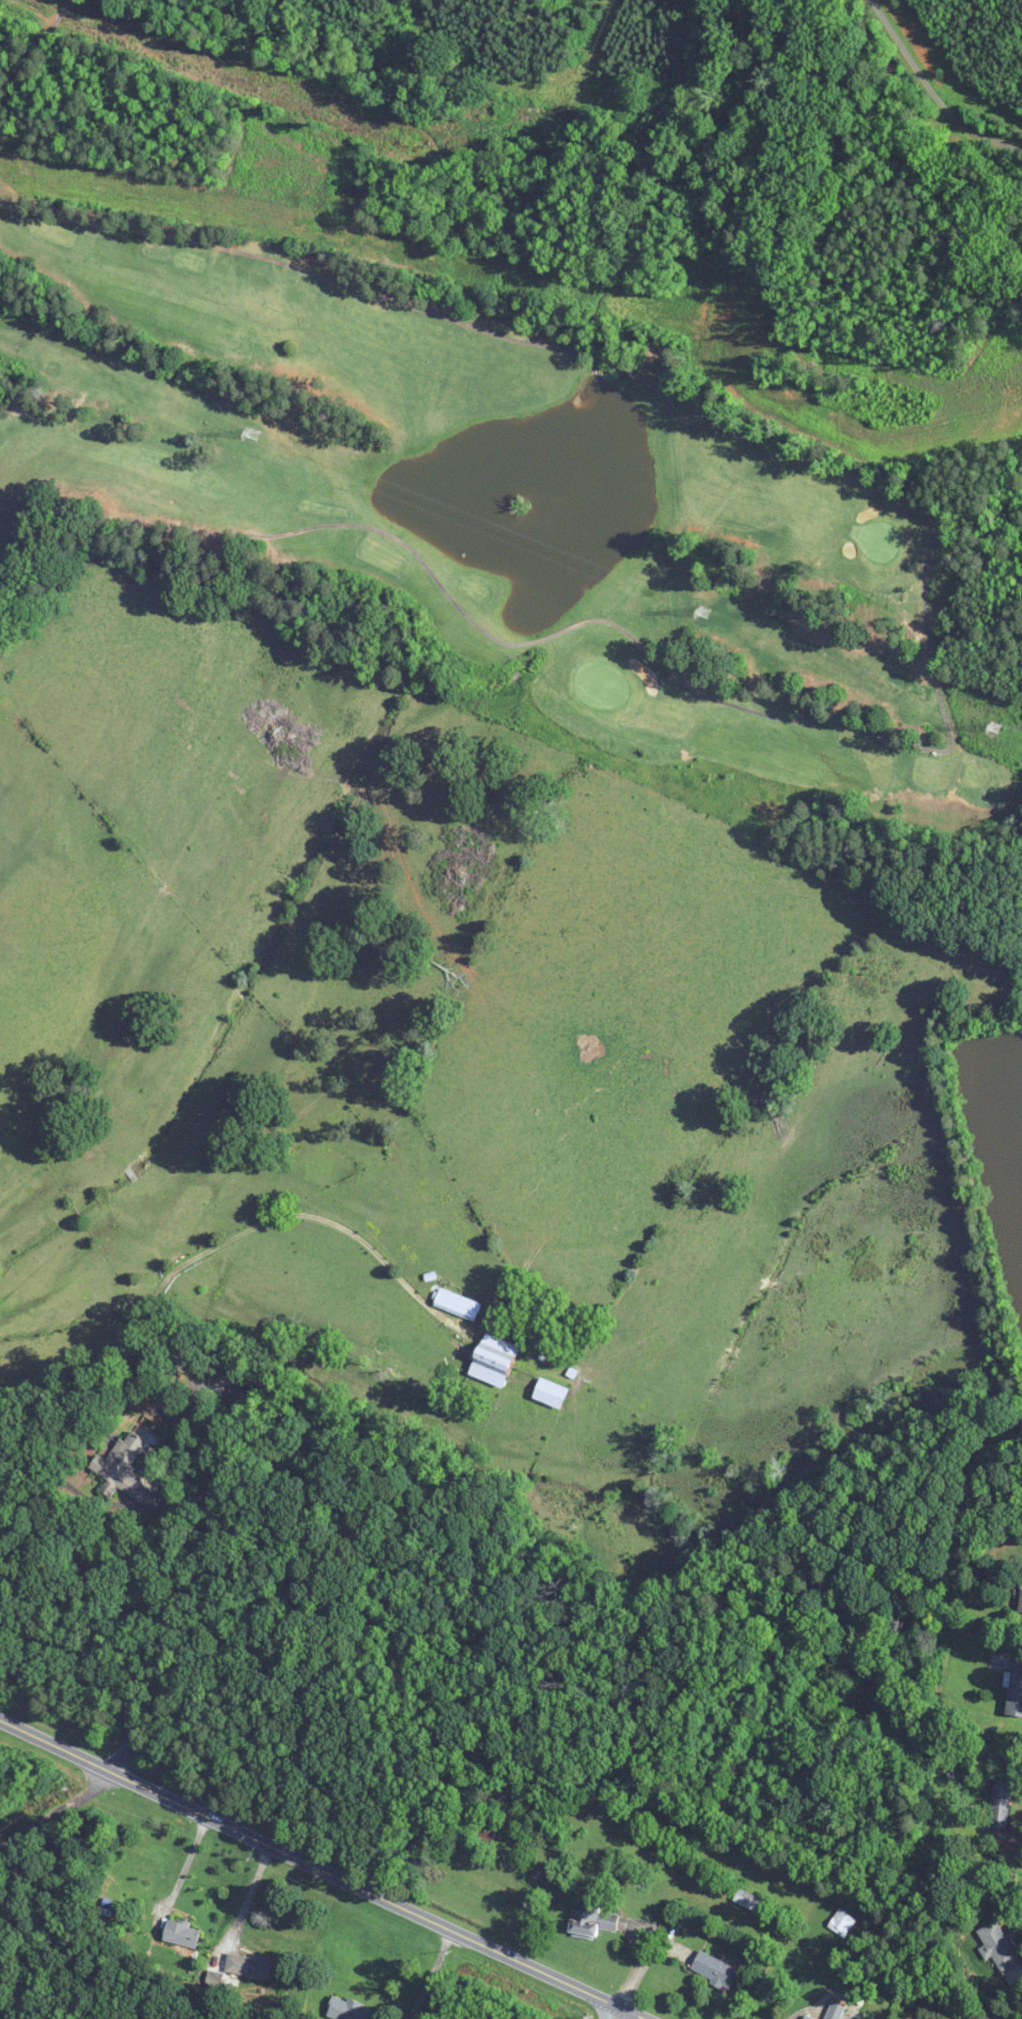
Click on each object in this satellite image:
road: (932, 91)
power tower: (253, 434)
park: (484, 492)
power tower: (706, 610)
power tower: (995, 727)
building: (457, 1305)
building: (494, 1360)
building: (551, 1393)
road: (201, 1402)
road: (165, 1455)
building: (126, 1472)
road: (84, 1509)
building: (1021, 1603)
building: (1015, 1690)
road: (135, 1694)
building: (1002, 1804)
road: (191, 1866)
road: (322, 1870)
road: (252, 1899)
building: (751, 1902)
building: (591, 1920)
building: (841, 1922)
building: (182, 1933)
building: (997, 1945)
building: (248, 1965)
building: (714, 1970)
road: (442, 1977)
building: (348, 2009)
building: (833, 2011)
road: (614, 2013)
road: (620, 2013)

